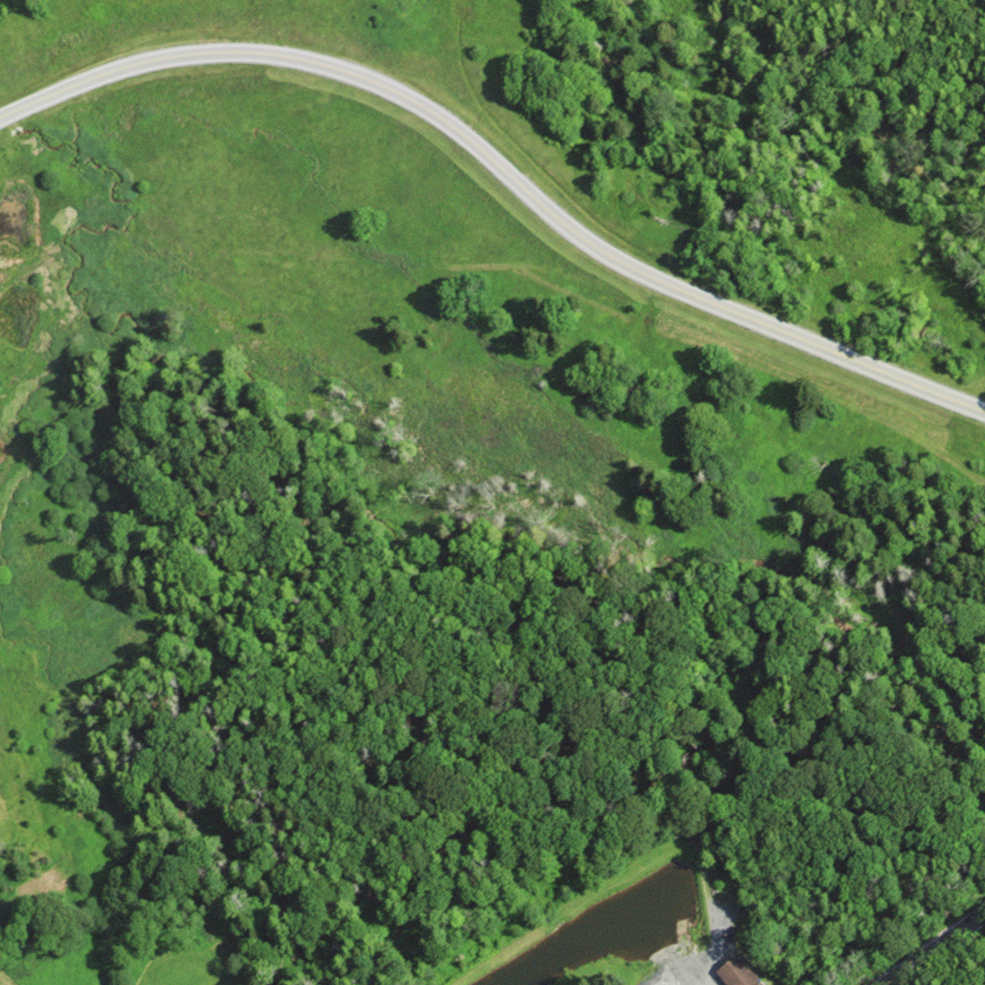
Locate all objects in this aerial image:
road: (501, 168)
road: (953, 933)
road: (901, 971)
building: (734, 972)

